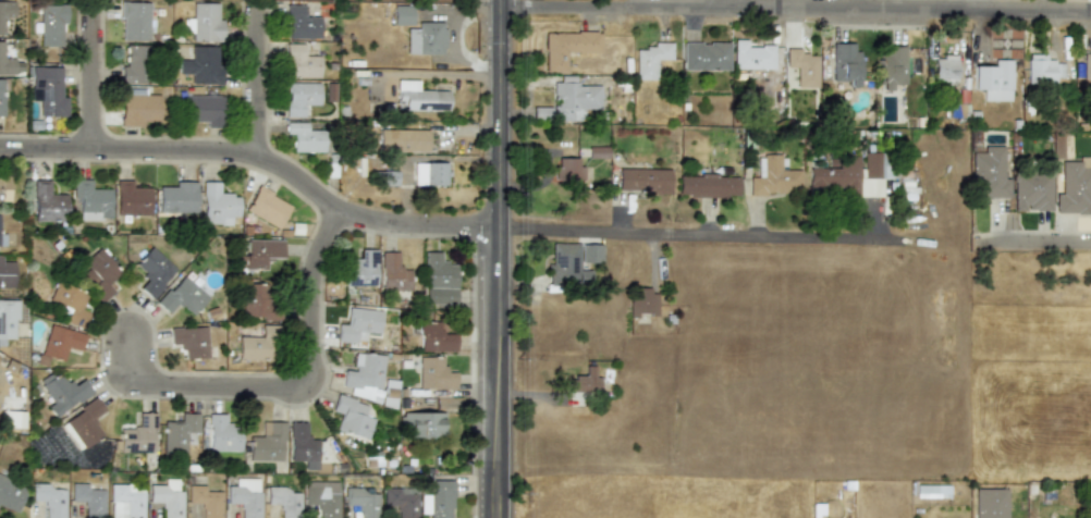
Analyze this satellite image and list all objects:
road: (736, 4)
road: (973, 7)
road: (796, 10)
building: (5, 12)
building: (402, 14)
building: (134, 21)
building: (206, 23)
building: (51, 24)
building: (301, 24)
building: (425, 38)
building: (567, 47)
building: (704, 55)
building: (752, 55)
building: (650, 59)
building: (5, 62)
building: (301, 63)
building: (135, 64)
building: (201, 64)
building: (844, 64)
building: (891, 65)
building: (1087, 66)
building: (944, 69)
building: (799, 70)
building: (1042, 71)
road: (96, 77)
building: (993, 81)
road: (258, 82)
building: (1, 96)
building: (419, 97)
building: (301, 98)
building: (573, 99)
building: (138, 109)
building: (204, 110)
building: (305, 137)
building: (403, 140)
road: (259, 159)
building: (567, 169)
building: (989, 172)
building: (429, 173)
building: (872, 173)
building: (834, 175)
building: (774, 178)
building: (642, 181)
building: (707, 186)
building: (3, 187)
building: (1074, 188)
building: (1030, 192)
building: (176, 198)
building: (131, 199)
building: (91, 200)
building: (47, 202)
building: (217, 205)
building: (267, 208)
road: (622, 218)
road: (870, 222)
road: (692, 232)
building: (2, 239)
road: (1031, 247)
building: (258, 254)
building: (589, 254)
road: (654, 257)
road: (500, 258)
building: (565, 266)
building: (360, 269)
building: (154, 271)
building: (5, 273)
building: (97, 273)
building: (393, 273)
building: (439, 280)
building: (182, 296)
building: (258, 301)
building: (69, 303)
building: (642, 303)
building: (8, 319)
building: (357, 324)
building: (434, 338)
building: (189, 341)
building: (60, 342)
building: (257, 344)
building: (433, 374)
building: (364, 377)
building: (584, 382)
building: (62, 393)
road: (290, 393)
building: (407, 404)
building: (352, 417)
building: (12, 419)
building: (421, 424)
building: (177, 433)
building: (221, 434)
building: (138, 435)
building: (267, 443)
building: (302, 445)
building: (931, 491)
building: (10, 494)
building: (244, 496)
building: (167, 497)
building: (321, 497)
building: (48, 499)
building: (88, 499)
building: (437, 499)
building: (125, 501)
building: (205, 501)
building: (283, 501)
building: (361, 502)
building: (401, 502)
building: (989, 503)

